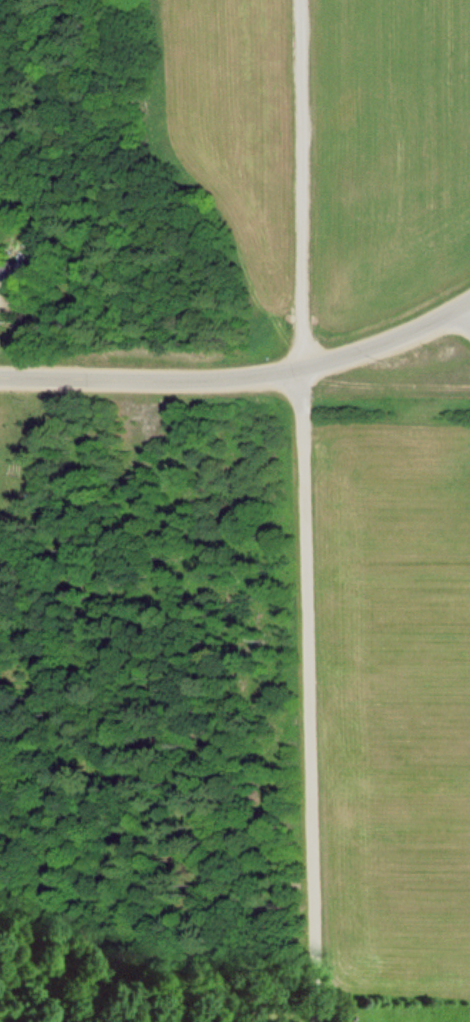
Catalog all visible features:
road: (297, 185)
building: (15, 274)
road: (468, 307)
road: (468, 311)
road: (239, 380)
road: (309, 696)

